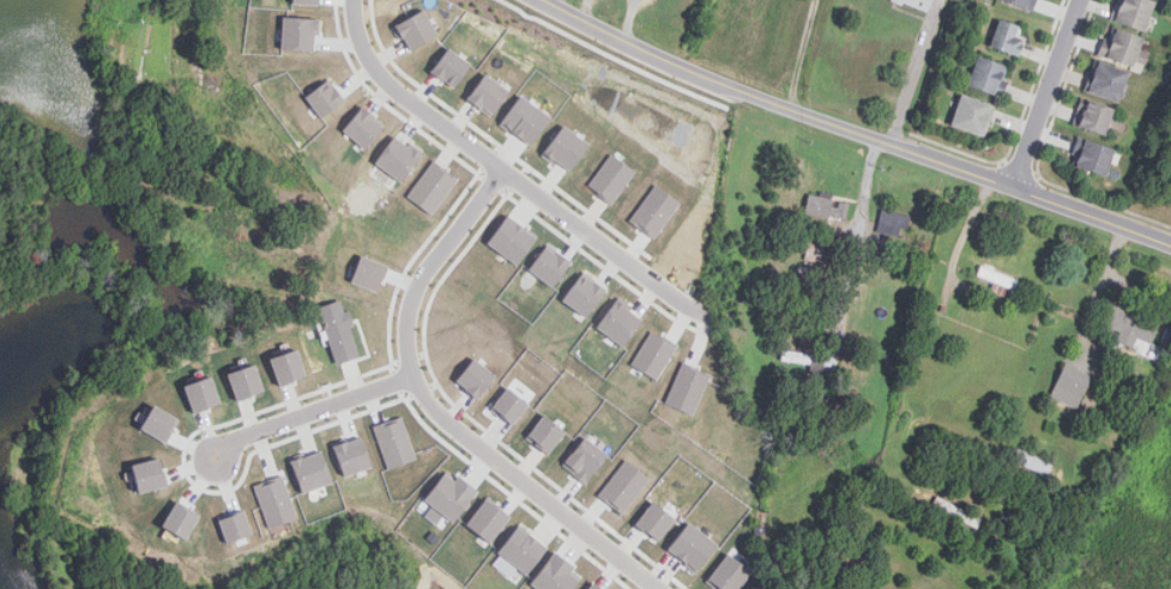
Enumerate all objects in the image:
building: (306, 1)
building: (919, 4)
building: (1024, 4)
building: (1135, 13)
building: (415, 29)
building: (298, 31)
building: (1008, 38)
building: (1122, 47)
building: (451, 67)
road: (917, 72)
building: (988, 77)
building: (1110, 83)
road: (1049, 92)
building: (488, 93)
building: (324, 97)
building: (973, 116)
building: (1094, 117)
building: (525, 119)
building: (363, 126)
road: (857, 130)
building: (565, 147)
building: (397, 157)
building: (1094, 158)
road: (499, 171)
building: (610, 177)
building: (431, 187)
building: (827, 206)
building: (653, 211)
building: (893, 224)
road: (965, 230)
building: (512, 238)
road: (858, 242)
building: (816, 253)
building: (549, 266)
building: (368, 272)
building: (997, 277)
road: (1137, 287)
road: (1097, 292)
building: (584, 293)
building: (618, 322)
building: (1131, 326)
building: (339, 330)
building: (653, 354)
building: (810, 359)
building: (286, 366)
building: (475, 376)
building: (245, 382)
building: (1072, 385)
building: (686, 389)
building: (201, 393)
building: (509, 405)
road: (312, 412)
road: (440, 412)
building: (158, 423)
building: (545, 432)
building: (394, 441)
building: (352, 455)
building: (584, 459)
building: (1028, 461)
building: (310, 470)
building: (149, 474)
building: (623, 485)
building: (448, 497)
building: (274, 500)
building: (959, 510)
building: (180, 520)
building: (488, 520)
building: (654, 520)
building: (234, 526)
building: (693, 546)
building: (518, 552)
building: (555, 573)
building: (728, 573)
building: (593, 587)

